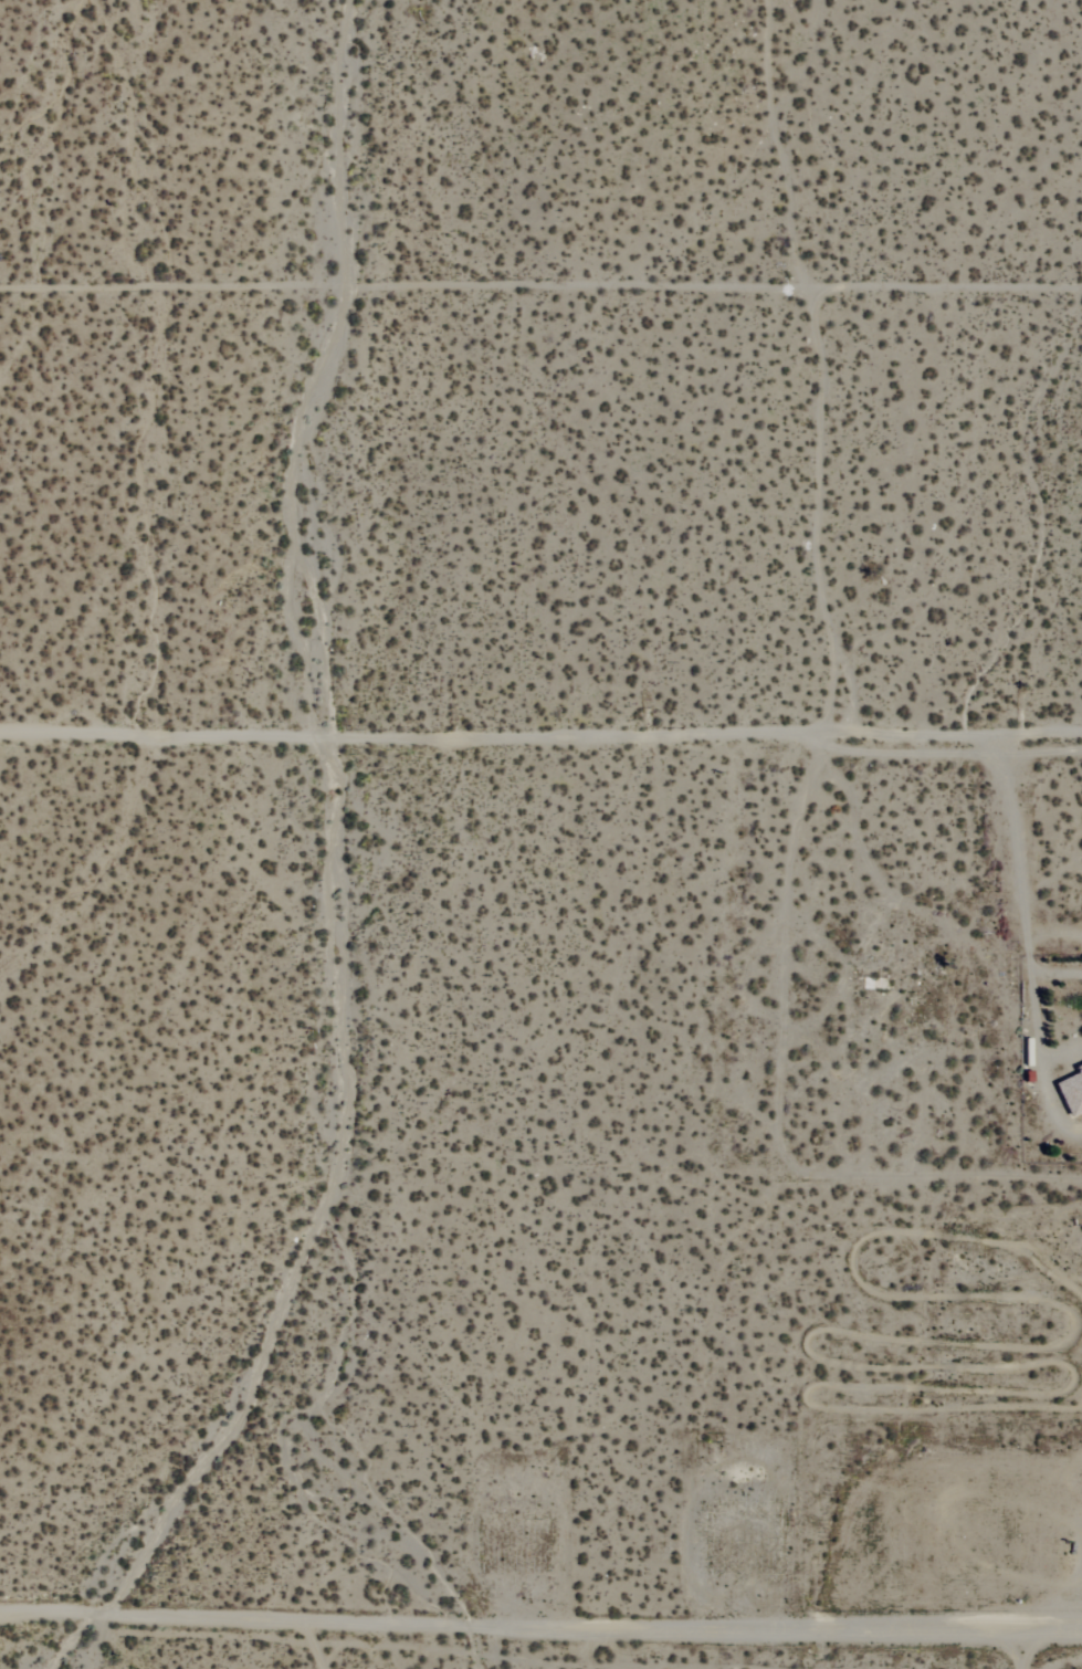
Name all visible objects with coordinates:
road: (540, 285)
road: (540, 733)
road: (1025, 941)
road: (540, 1633)
road: (336, 1647)

